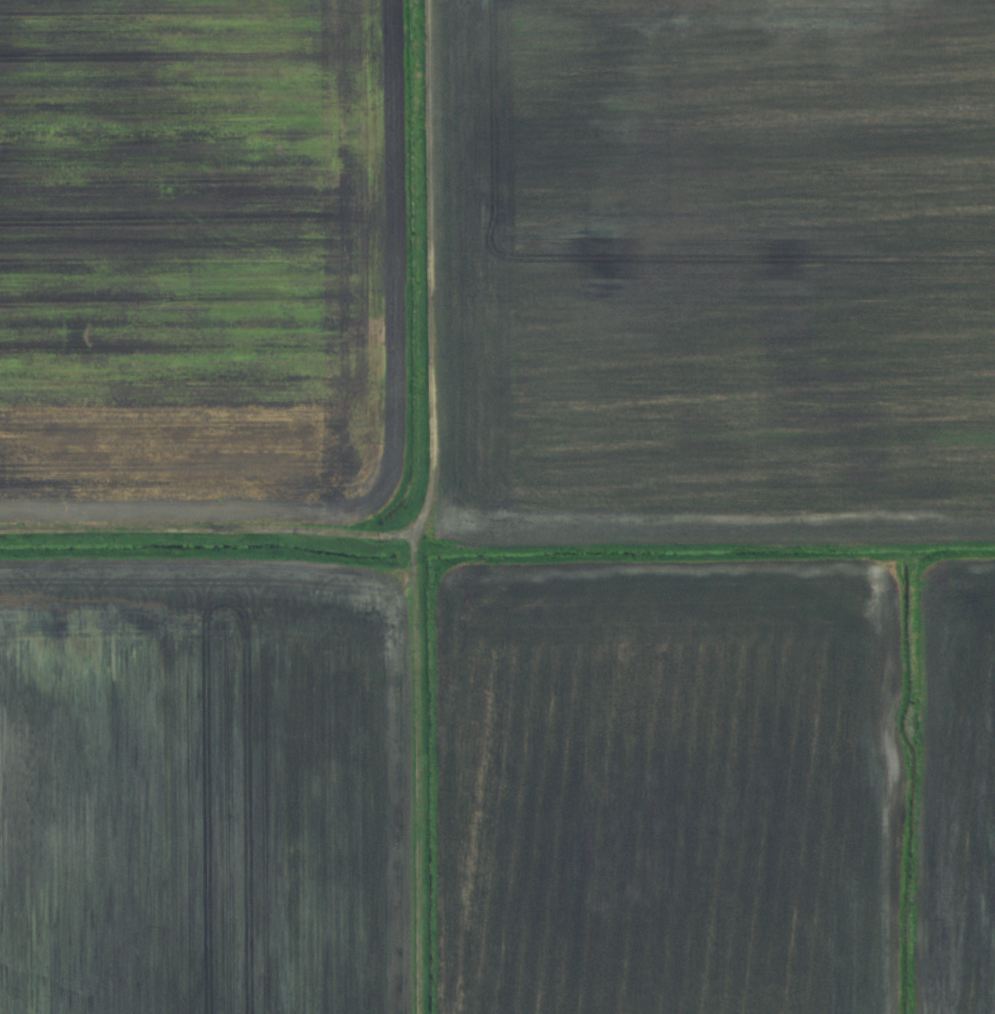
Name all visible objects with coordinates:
road: (428, 474)

